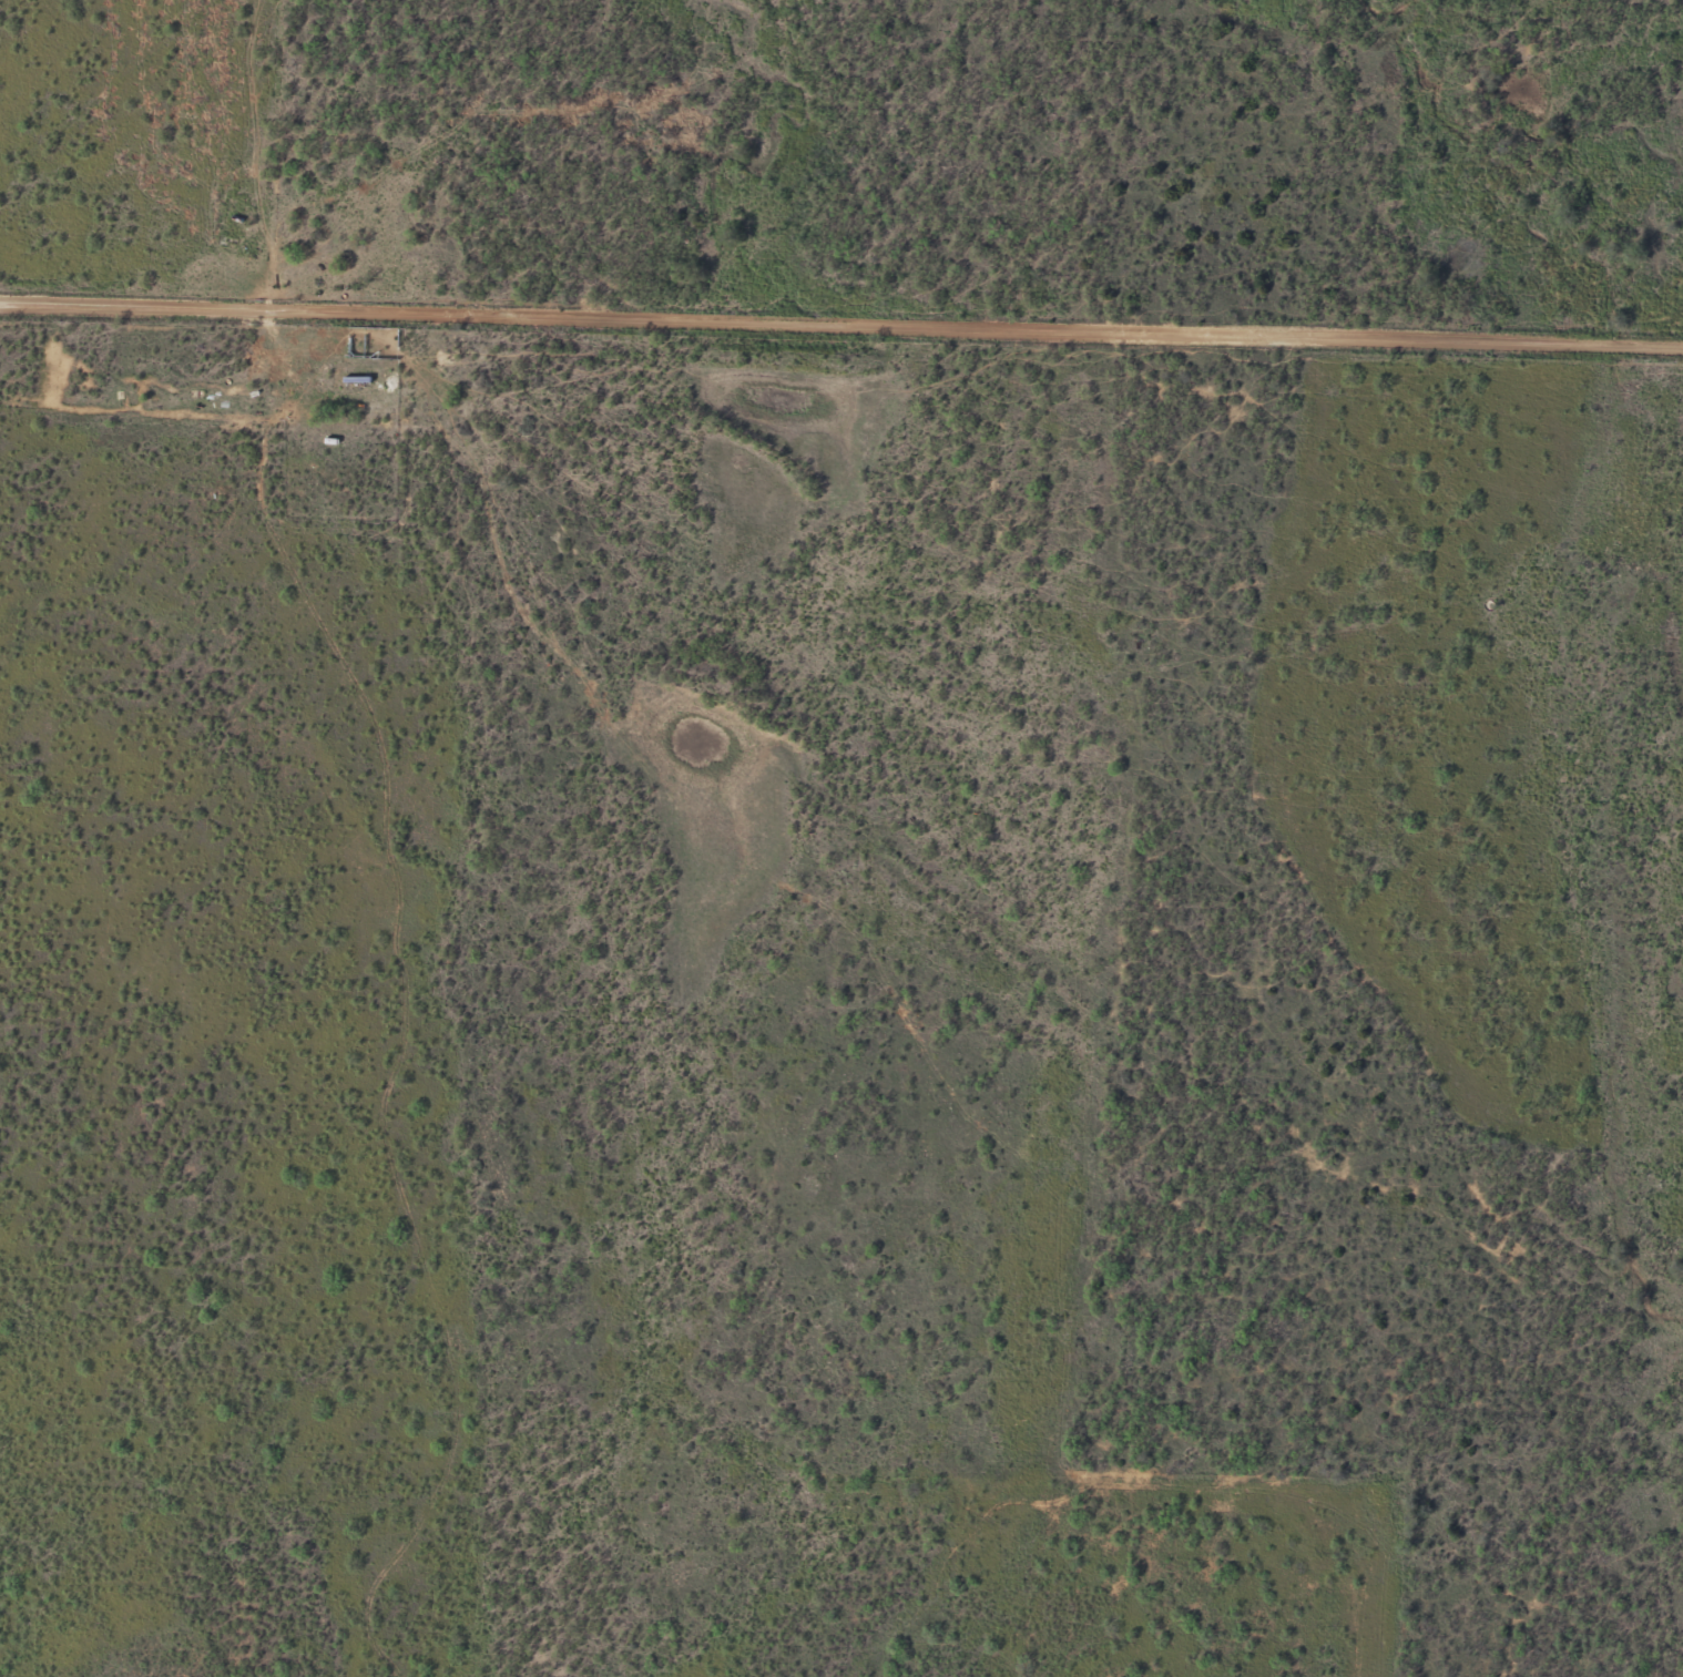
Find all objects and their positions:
road: (840, 321)

